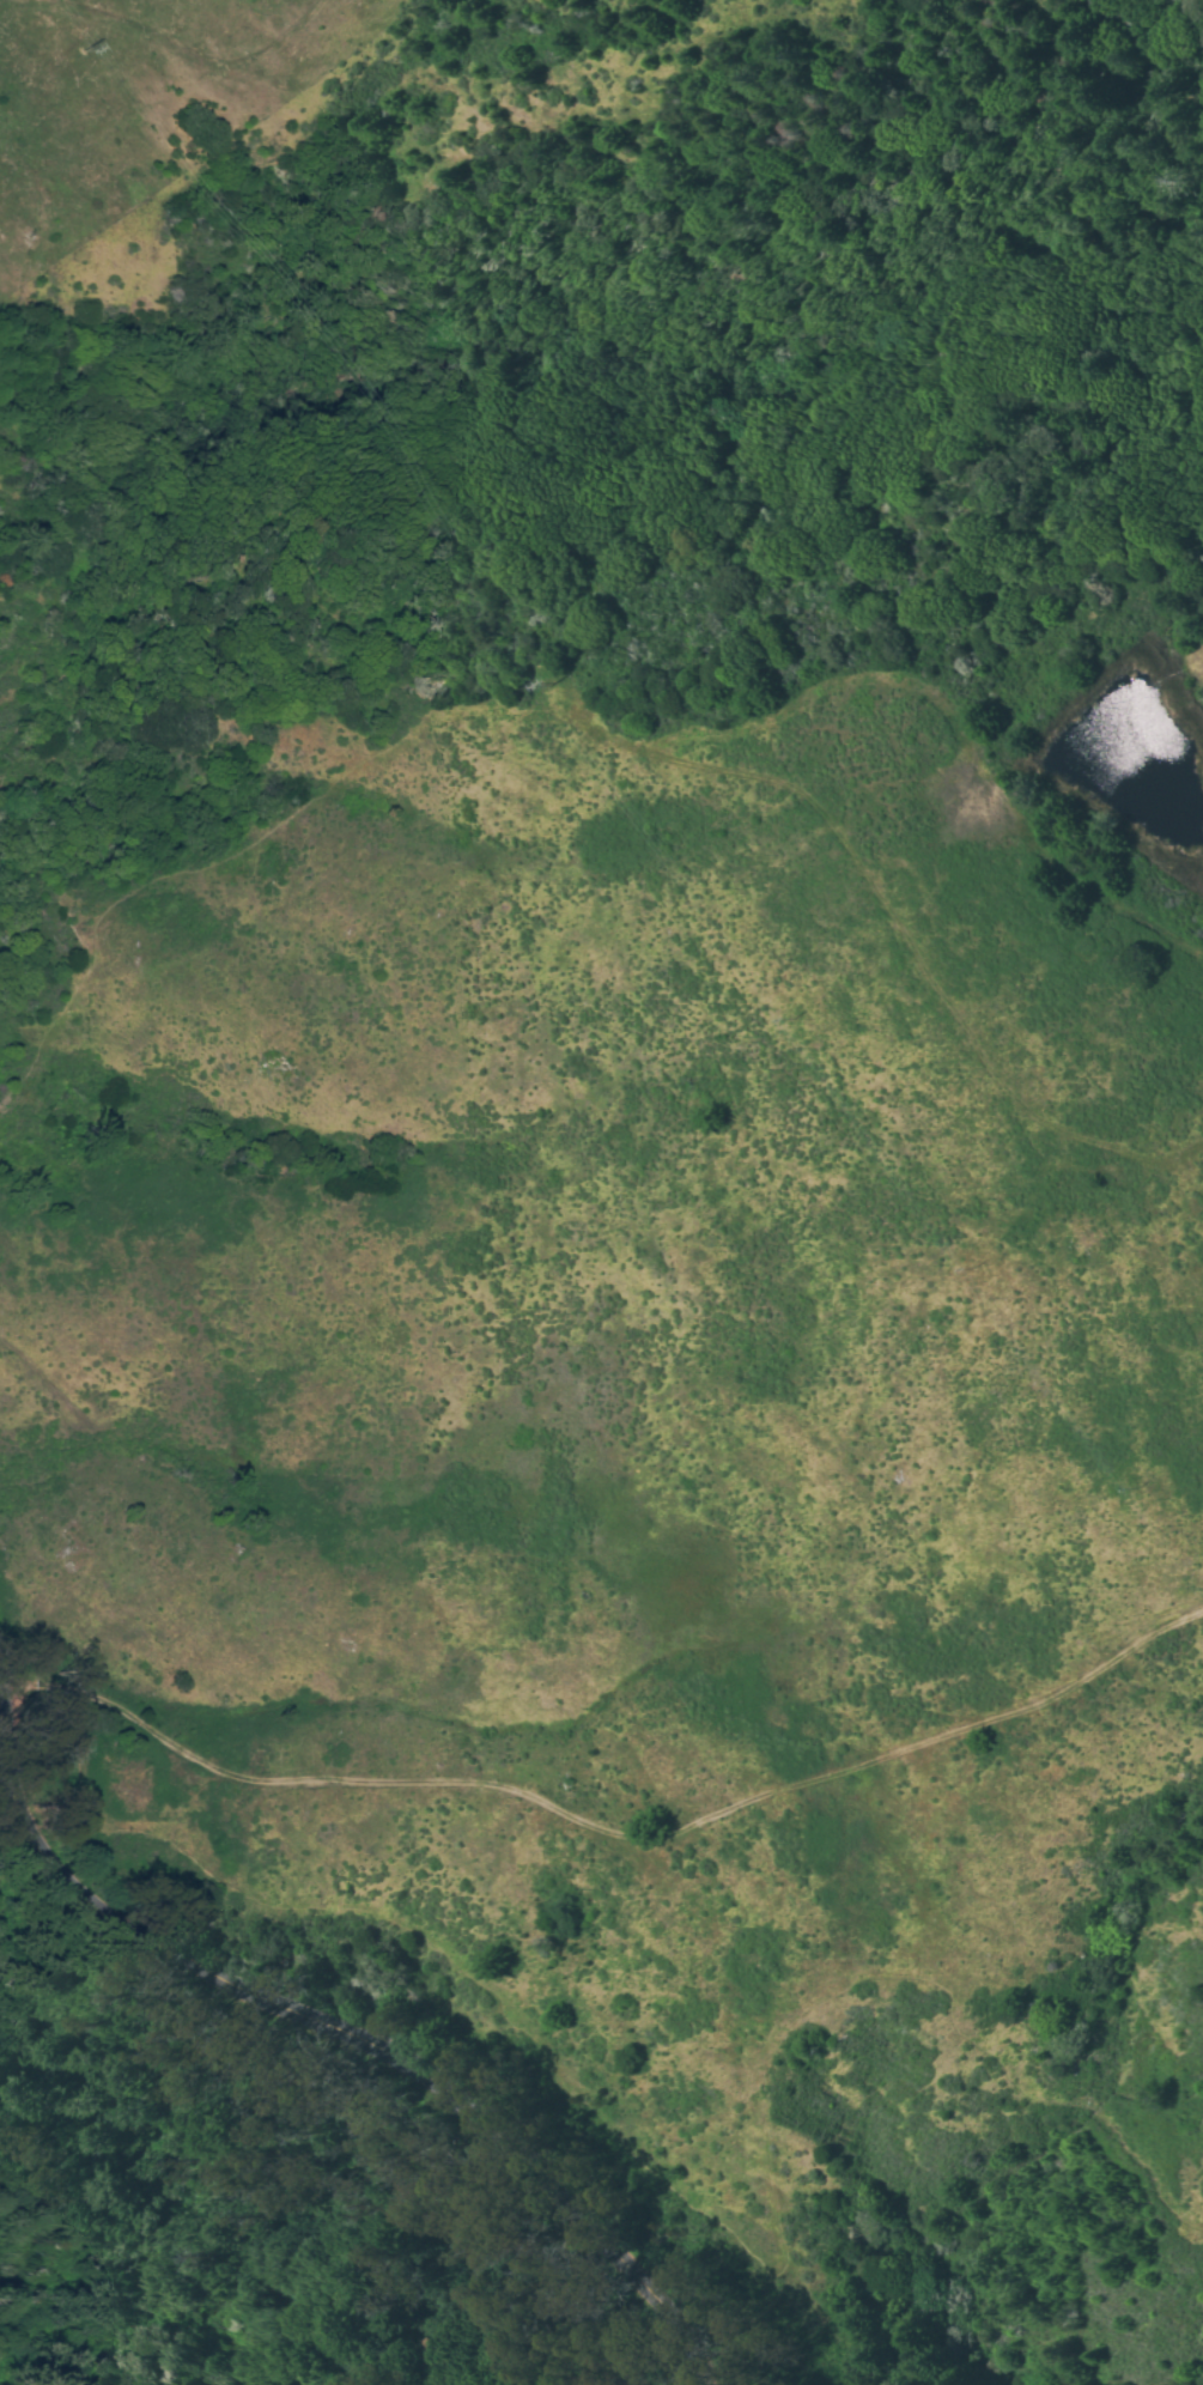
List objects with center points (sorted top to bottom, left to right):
road: (345, 2038)

